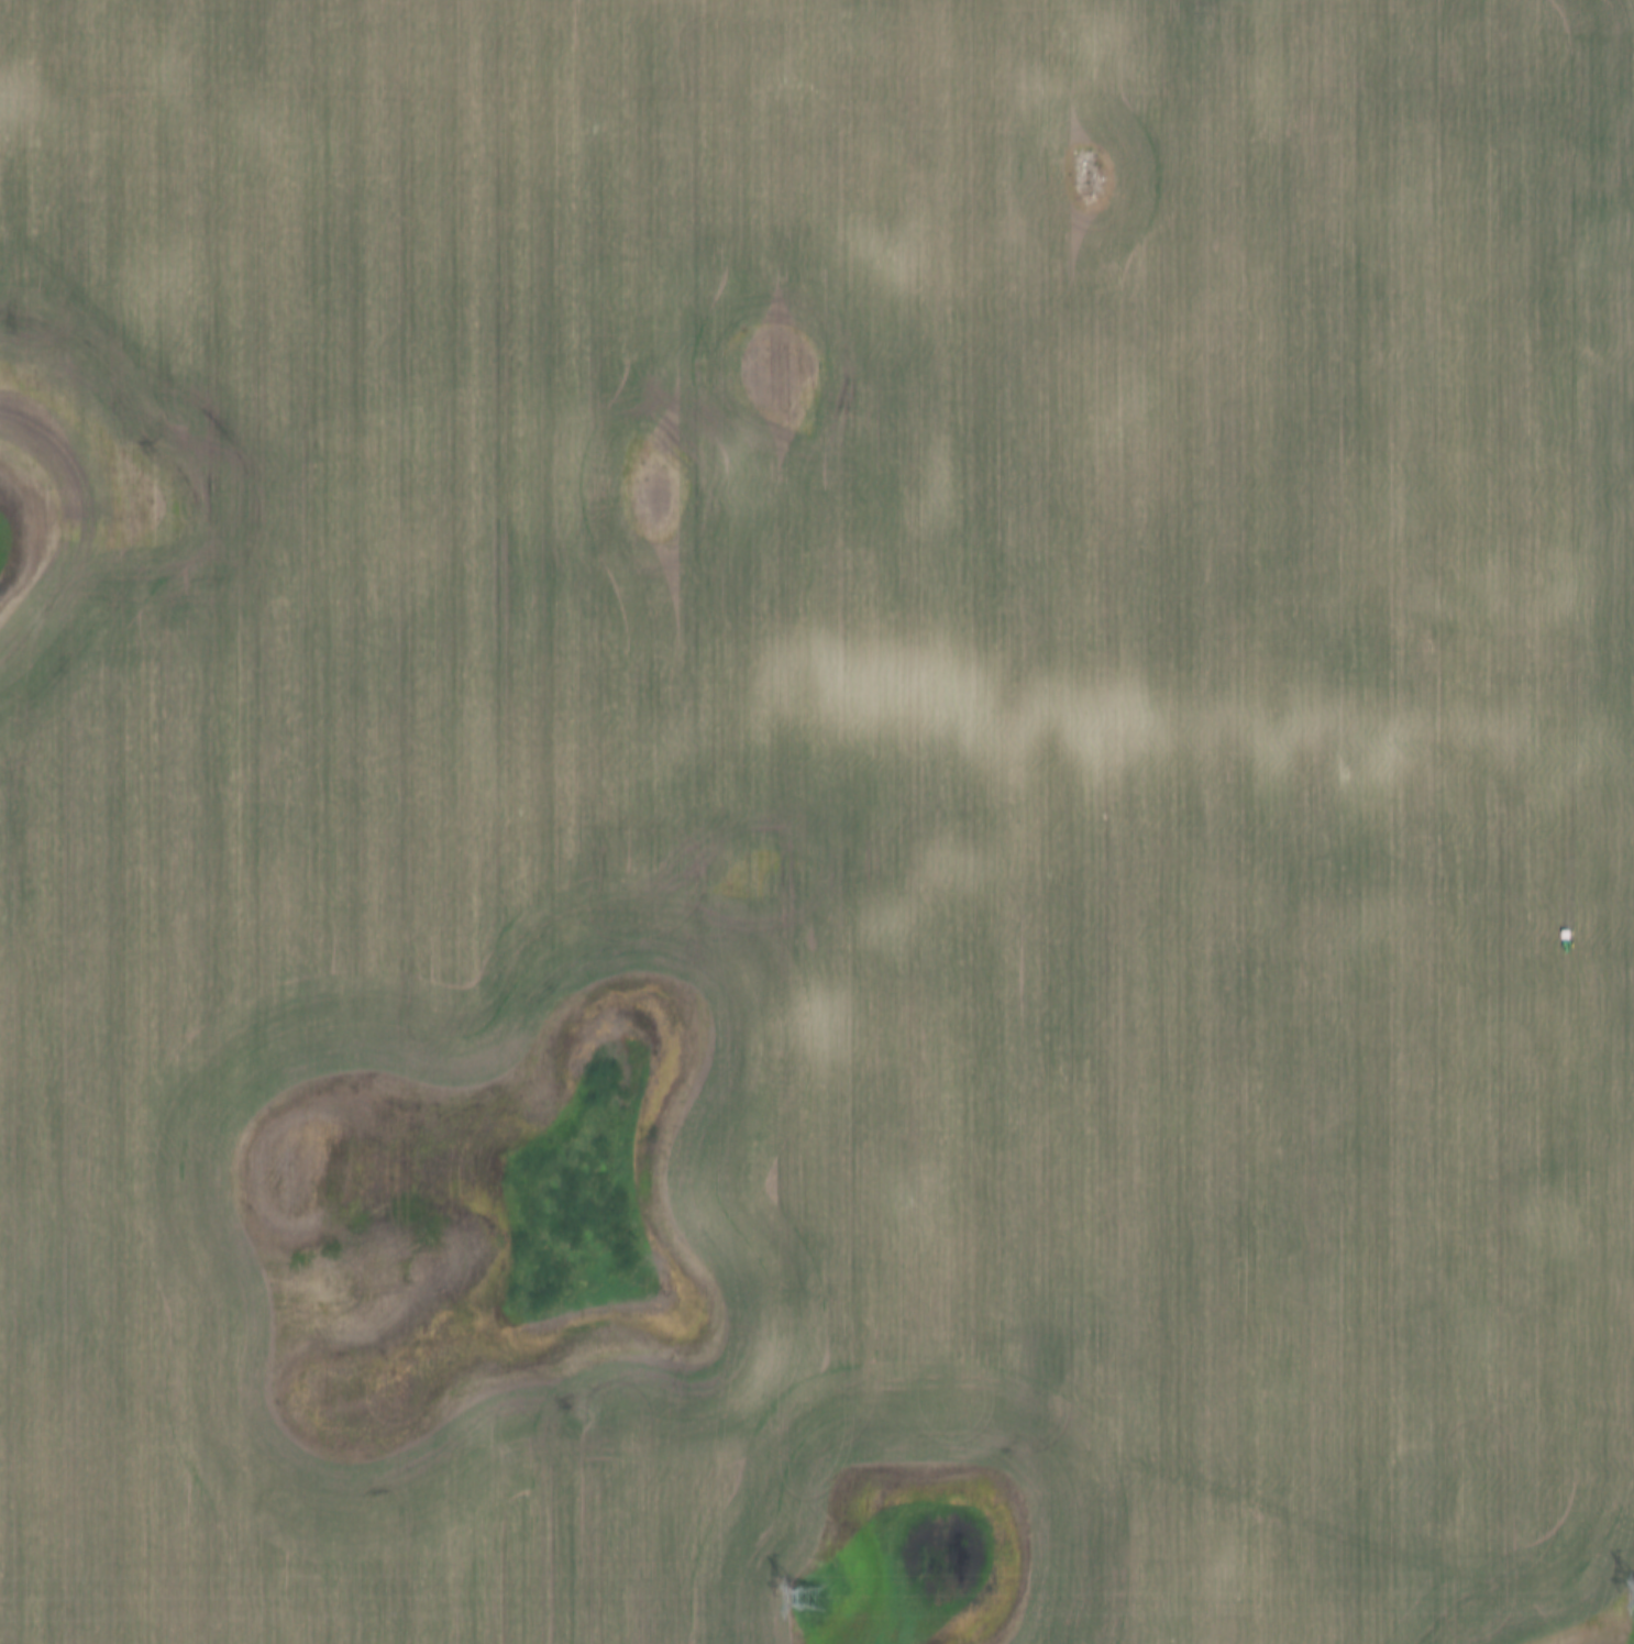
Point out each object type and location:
power tower: (810, 1596)

